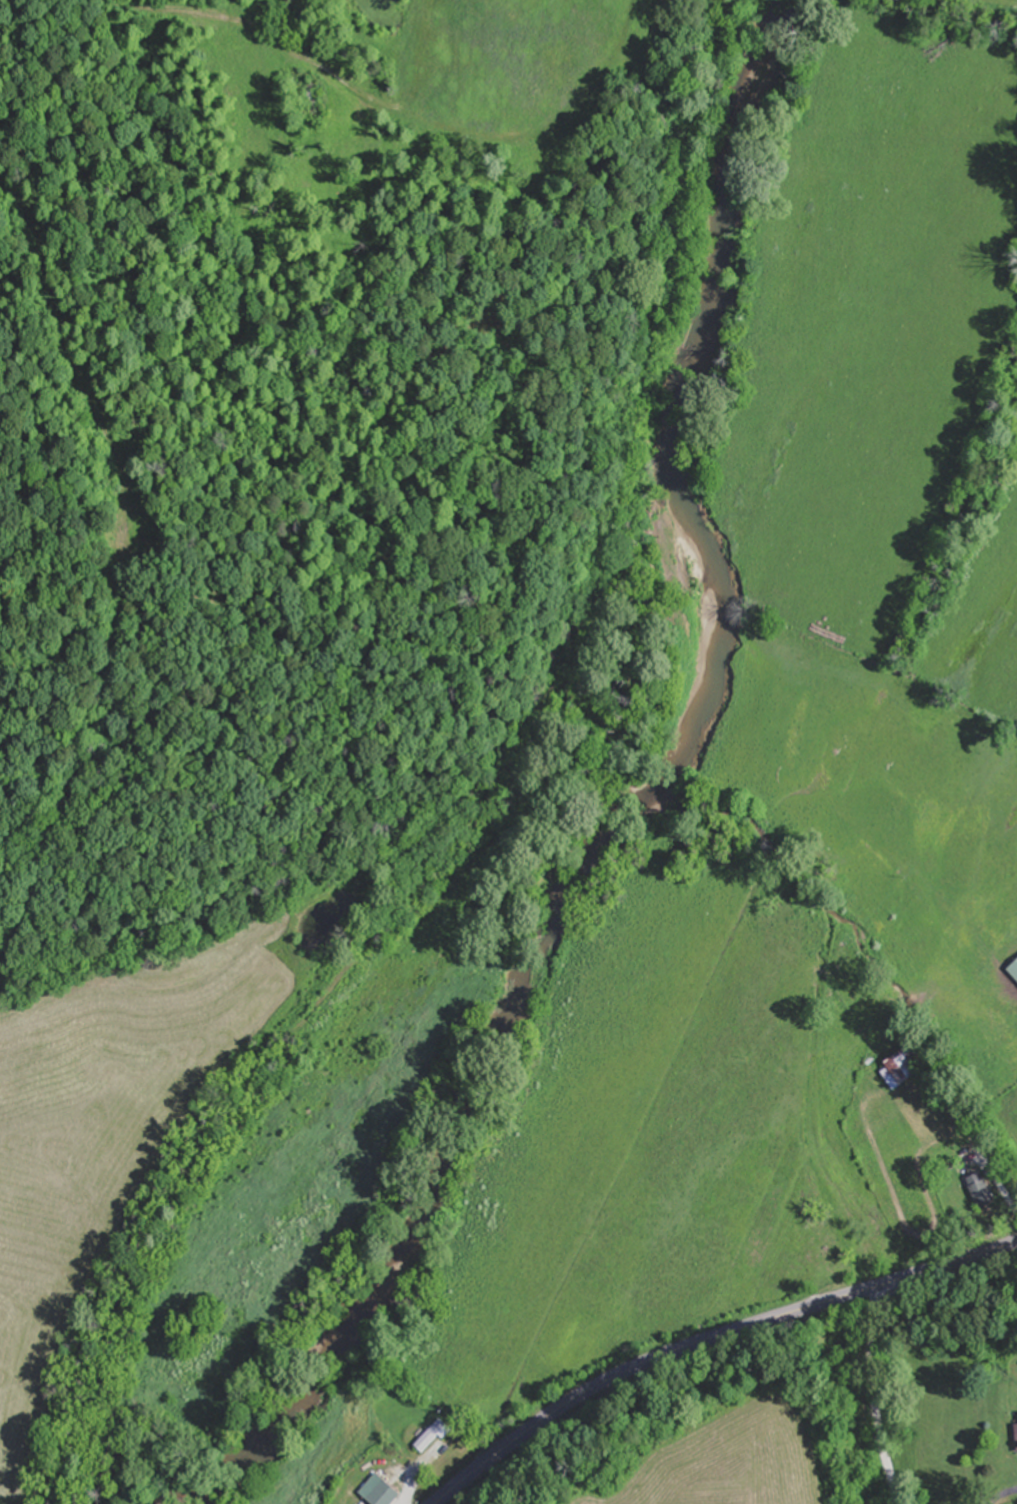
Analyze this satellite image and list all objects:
river: (648, 794)
building: (1012, 969)
building: (905, 1067)
building: (983, 1190)
road: (710, 1338)
road: (877, 1395)
building: (434, 1434)
building: (383, 1490)

